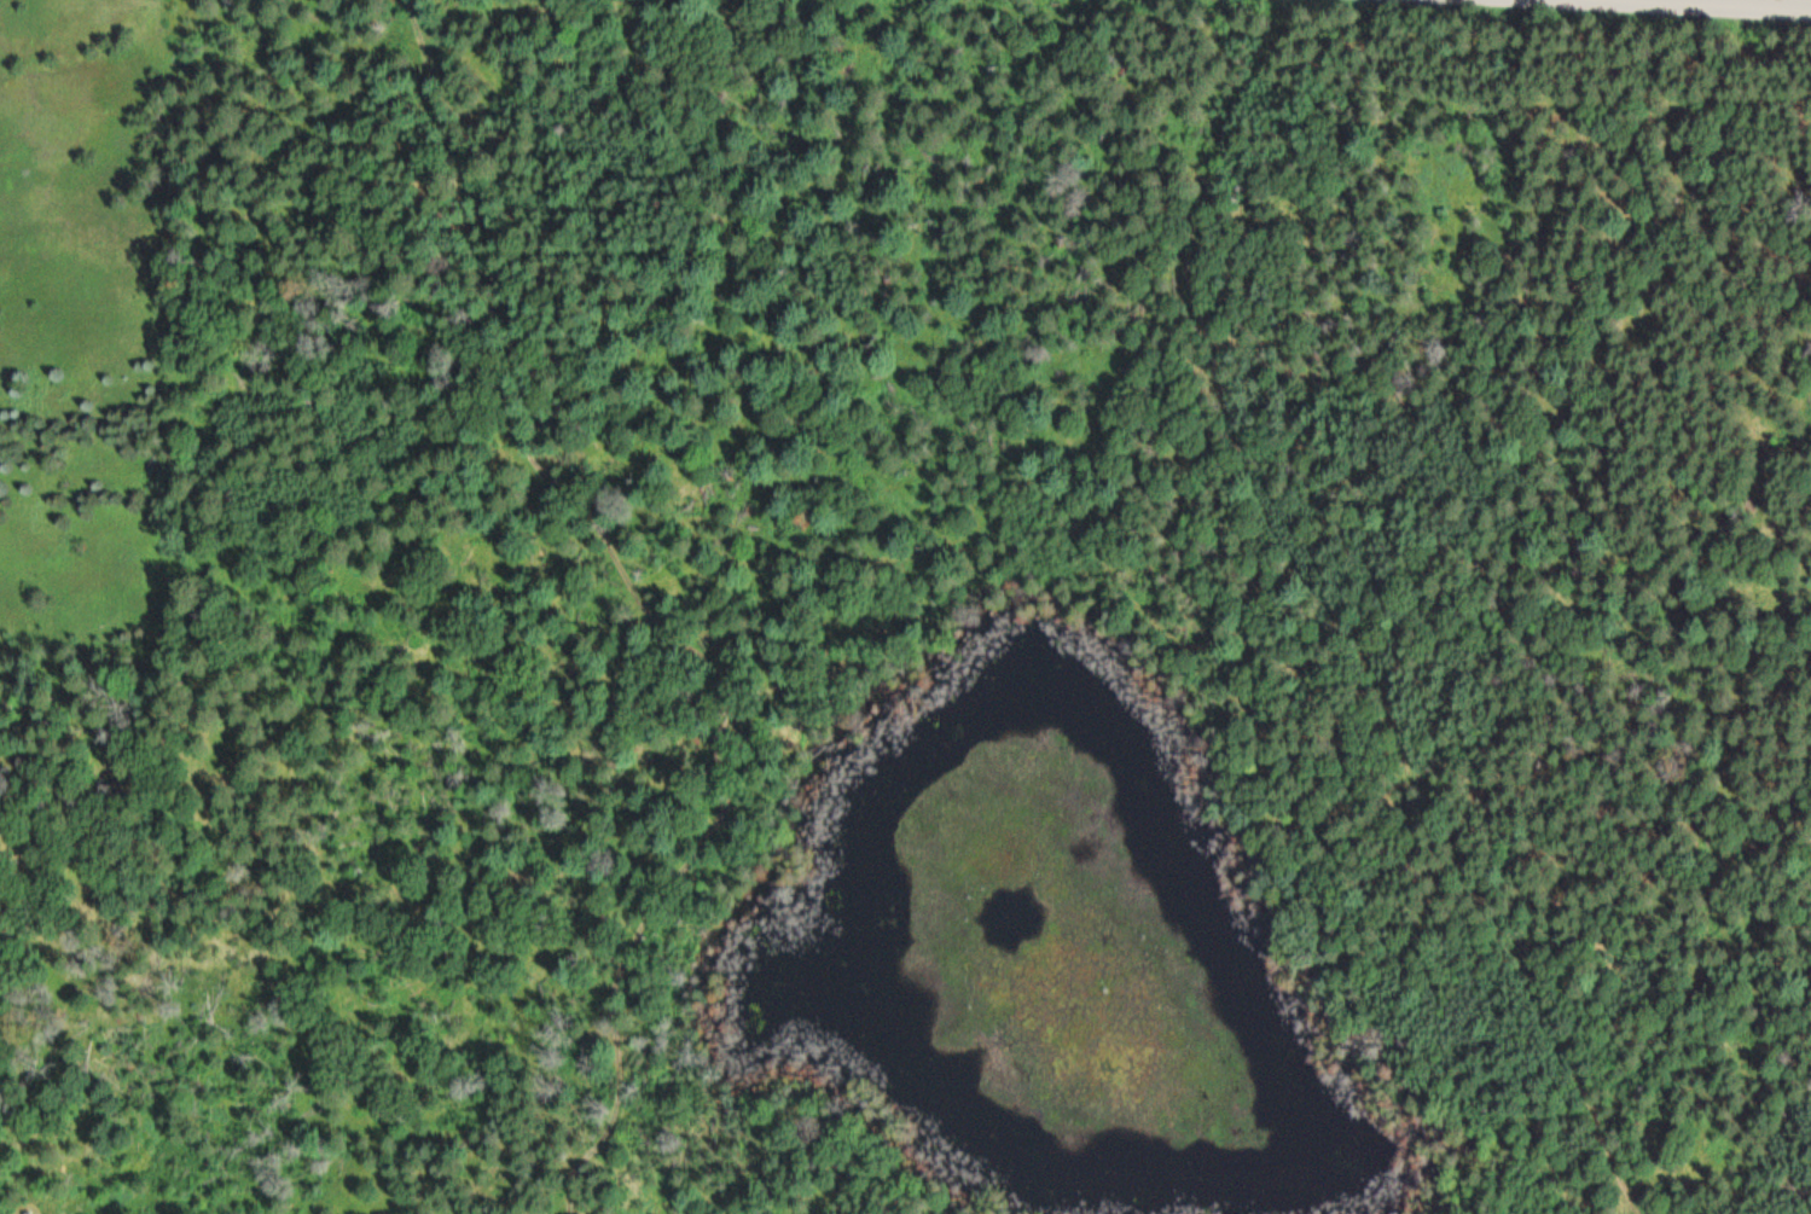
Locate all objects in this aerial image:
road: (1764, 2)

